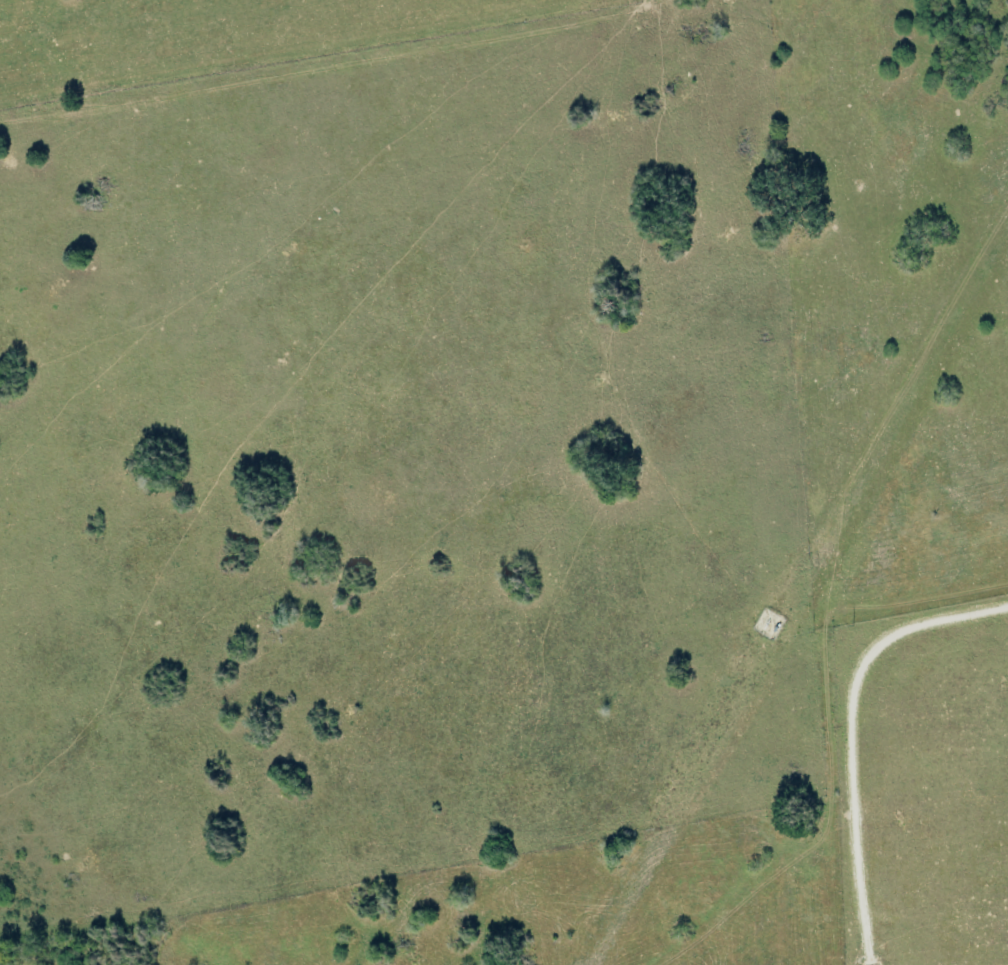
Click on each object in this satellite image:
road: (866, 737)

